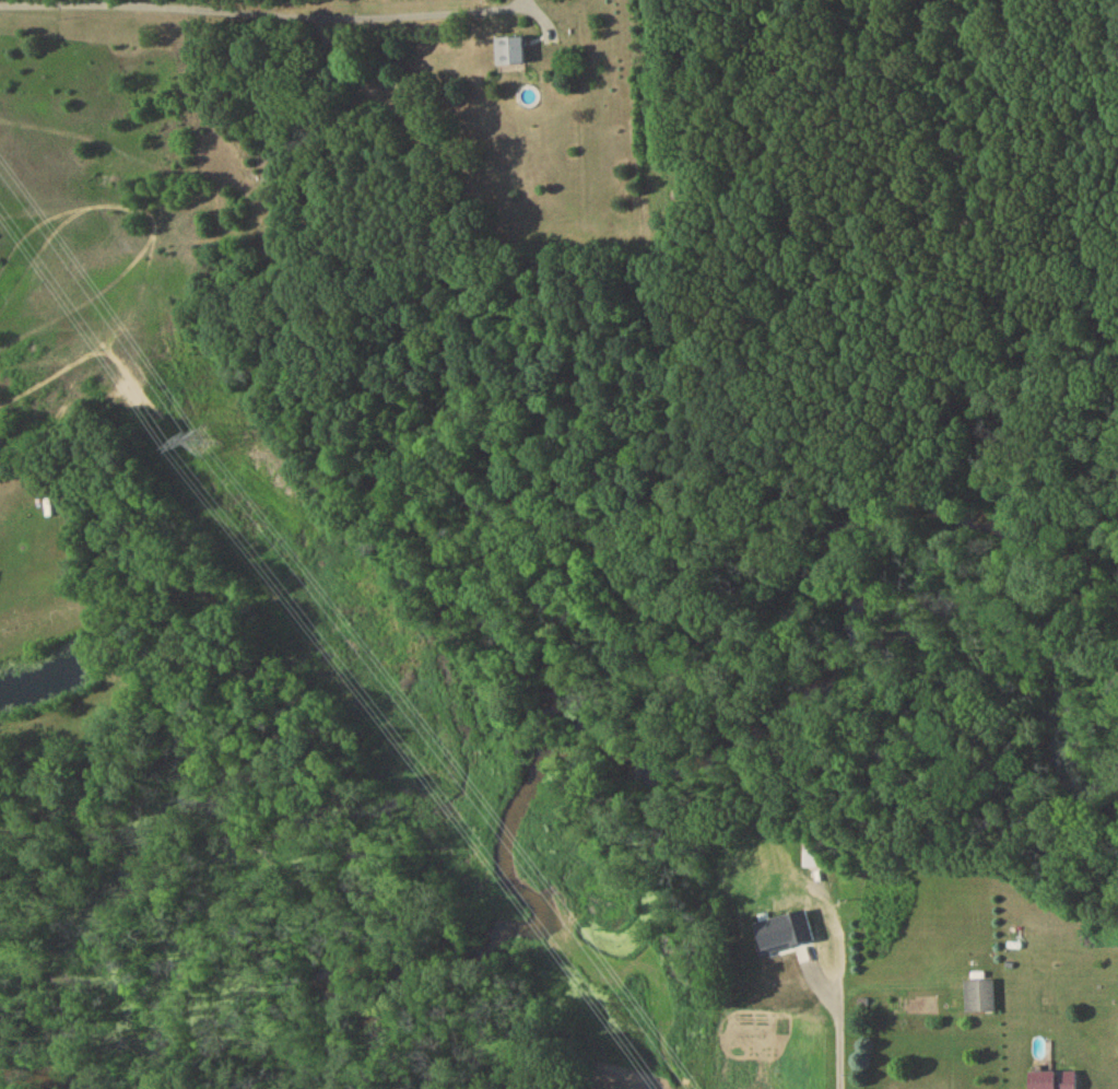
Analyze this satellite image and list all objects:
road: (260, 13)
building: (511, 56)
power tower: (201, 444)
building: (816, 858)
building: (758, 864)
road: (840, 987)
building: (979, 999)
building: (1054, 1081)

